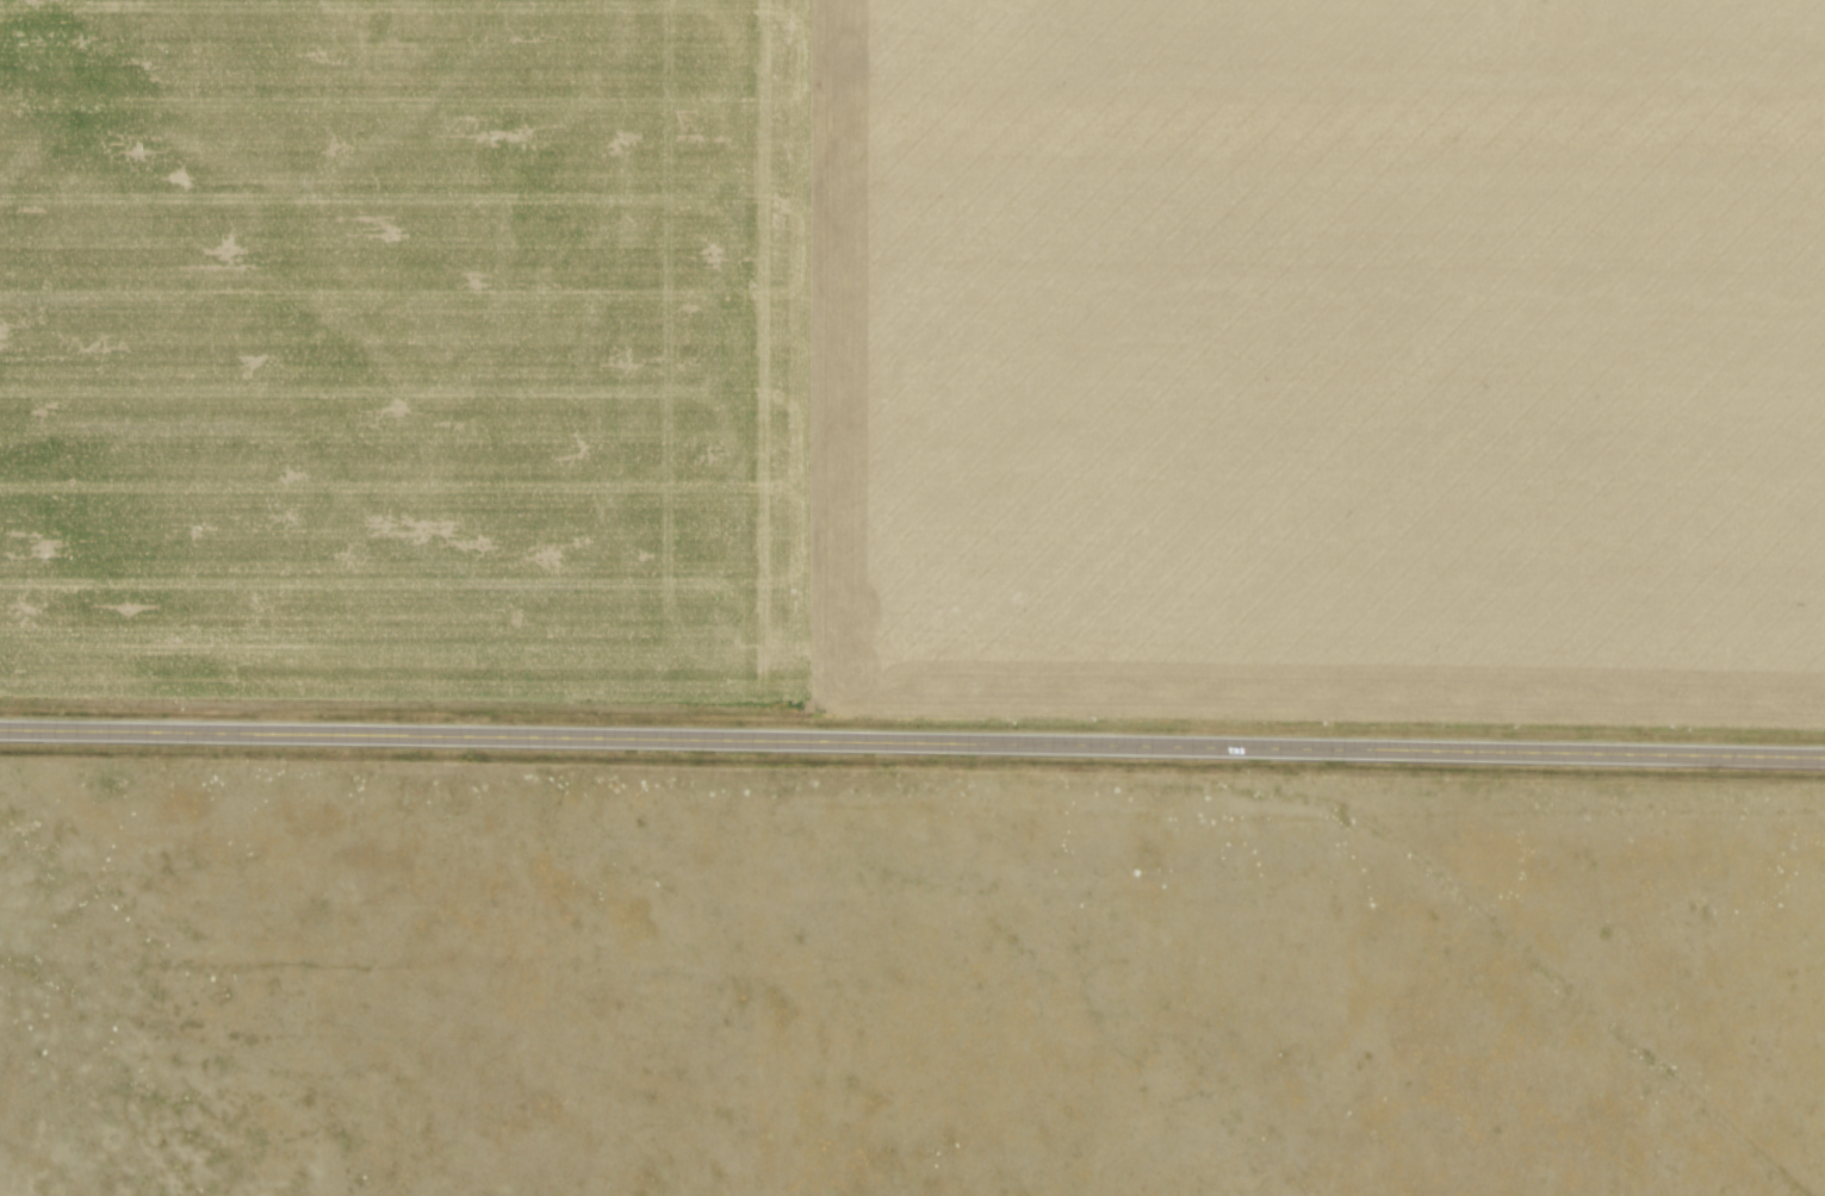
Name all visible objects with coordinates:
crop: (918, 359)
road: (912, 741)

